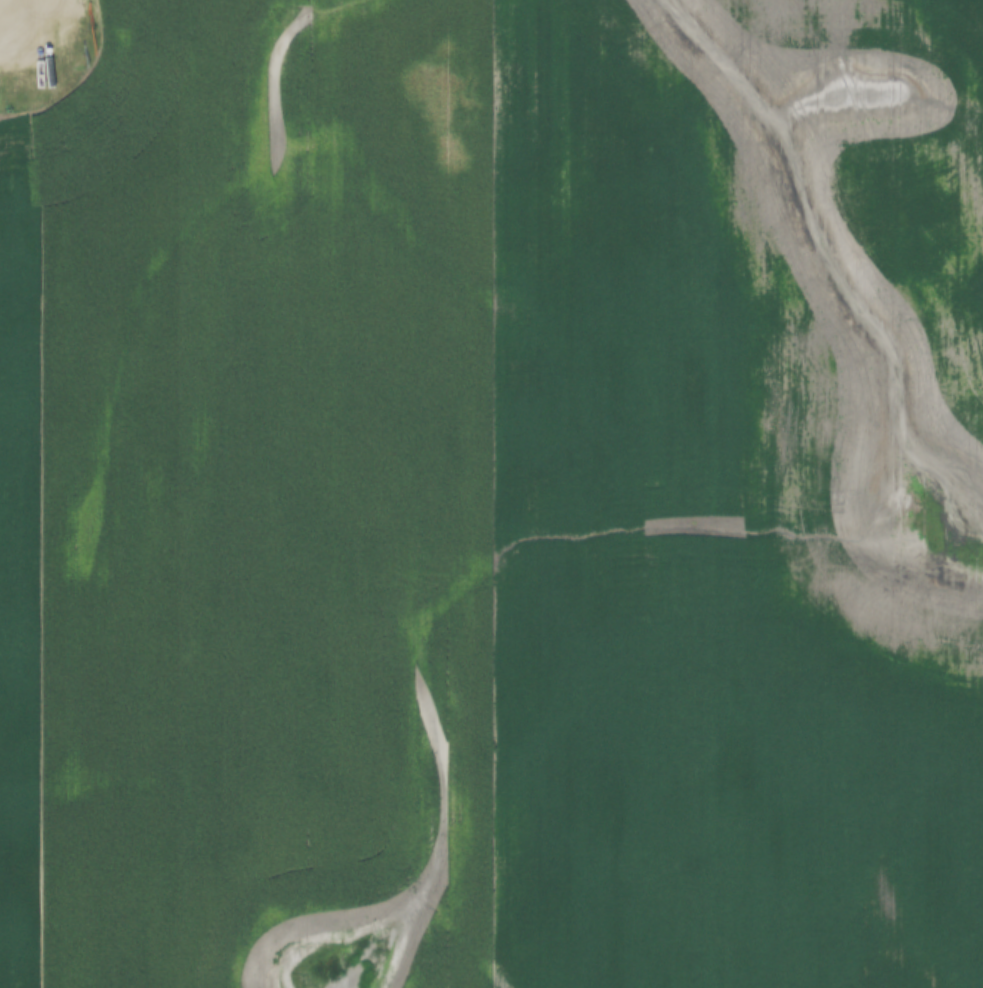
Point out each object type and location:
building: (36, 51)

